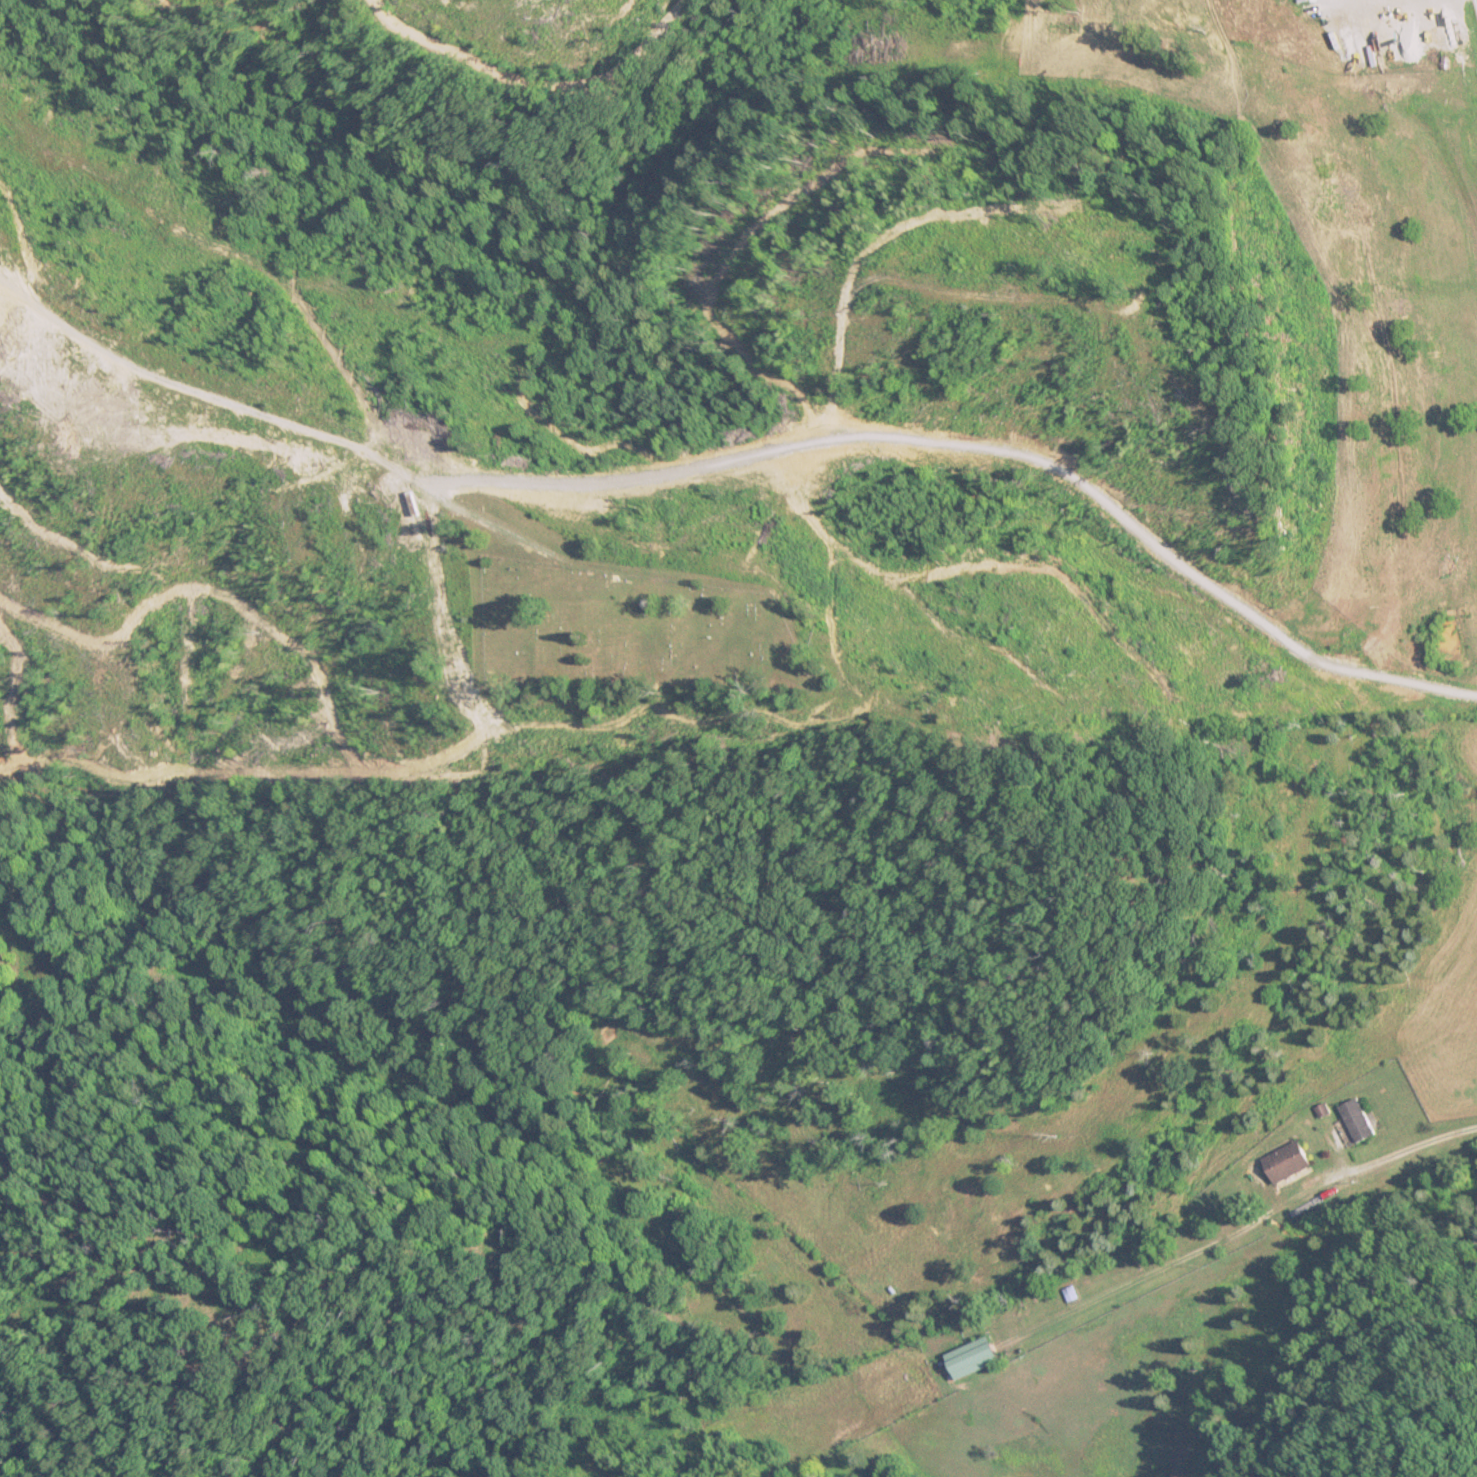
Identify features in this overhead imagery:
road: (530, 49)
road: (288, 434)
building: (1359, 1121)
building: (1289, 1162)
building: (975, 1358)

